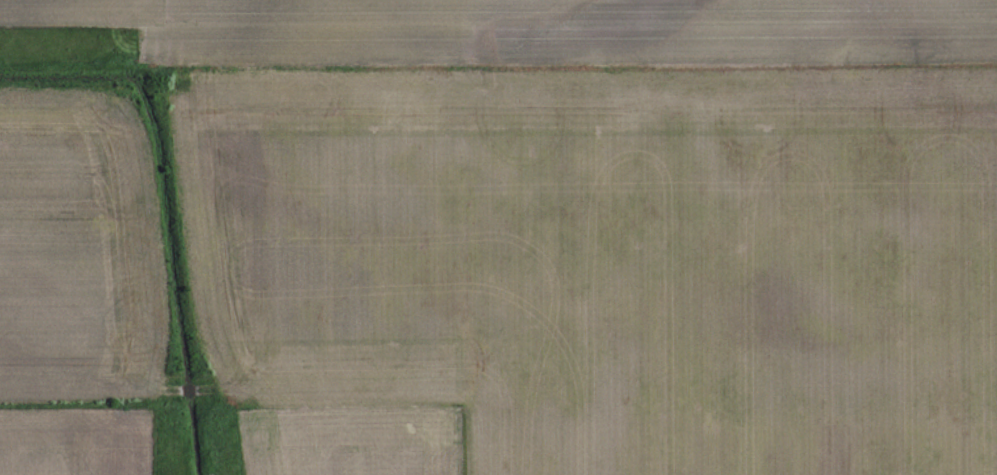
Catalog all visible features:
crop: (498, 237)

